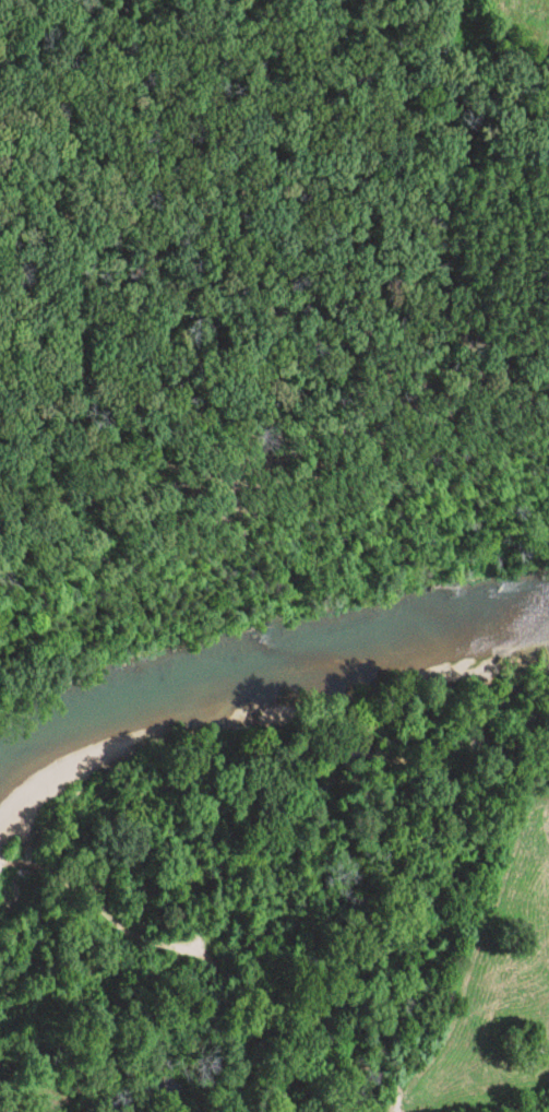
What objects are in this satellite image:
river: (259, 653)

